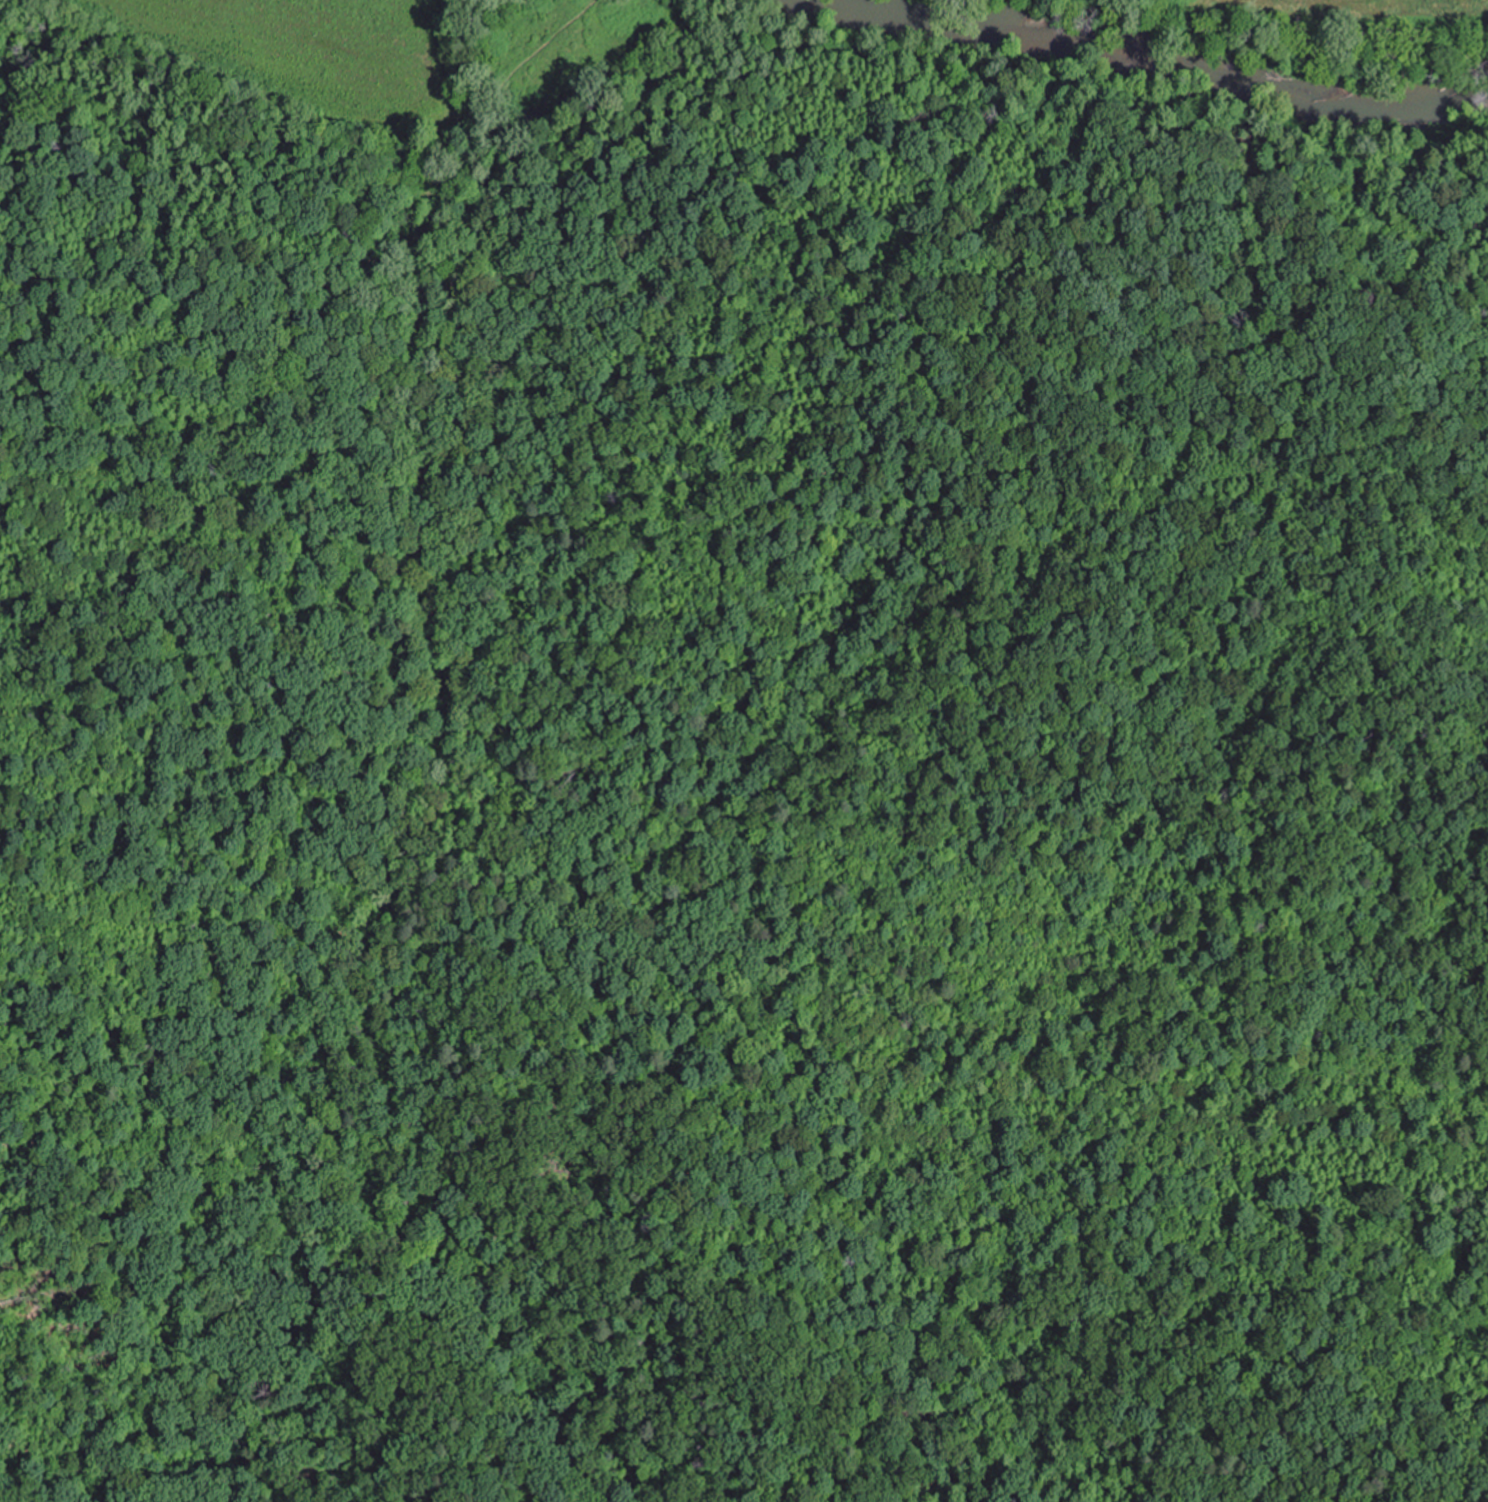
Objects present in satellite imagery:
river: (1176, 56)
road: (387, 515)

